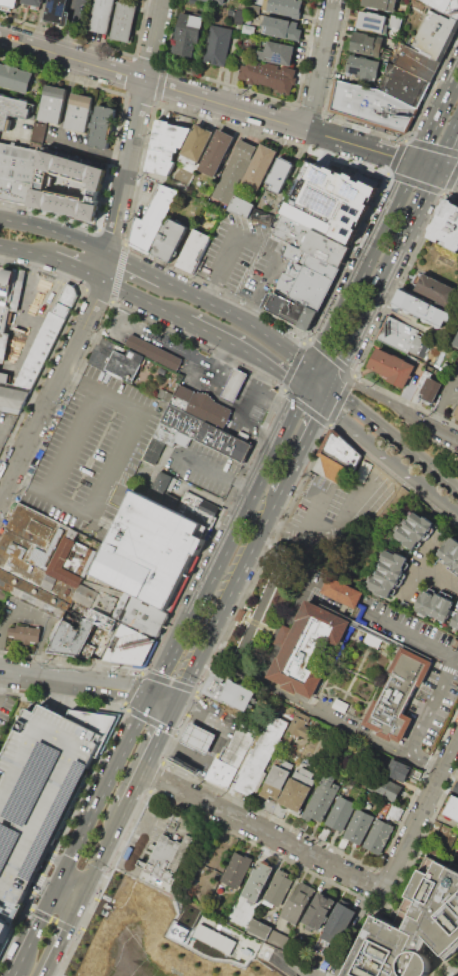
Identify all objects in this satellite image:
building: (216, 1)
building: (8, 3)
building: (32, 3)
building: (379, 5)
building: (285, 6)
building: (444, 6)
building: (255, 8)
building: (56, 12)
building: (229, 12)
building: (239, 15)
building: (102, 16)
building: (124, 21)
building: (369, 22)
building: (396, 23)
road: (69, 27)
building: (281, 28)
building: (248, 29)
road: (66, 34)
building: (435, 34)
building: (187, 38)
building: (217, 44)
building: (365, 47)
building: (277, 53)
road: (148, 60)
building: (416, 62)
road: (319, 64)
building: (362, 70)
road: (130, 75)
building: (268, 75)
building: (15, 77)
road: (159, 83)
road: (229, 85)
road: (431, 85)
building: (405, 86)
road: (139, 98)
building: (52, 104)
building: (370, 104)
road: (229, 106)
building: (12, 109)
road: (308, 109)
building: (78, 112)
road: (136, 126)
building: (102, 127)
road: (363, 127)
building: (38, 134)
road: (55, 137)
road: (115, 145)
building: (196, 145)
building: (166, 146)
road: (431, 146)
road: (319, 151)
building: (216, 152)
road: (395, 157)
traffic signals: (415, 162)
building: (259, 168)
traffic signals: (438, 169)
building: (234, 170)
building: (17, 172)
building: (279, 175)
road: (450, 179)
road: (413, 182)
building: (69, 184)
road: (428, 187)
building: (327, 202)
building: (241, 206)
building: (153, 220)
road: (129, 222)
road: (384, 223)
building: (446, 227)
road: (55, 232)
road: (109, 235)
building: (171, 241)
building: (310, 242)
road: (253, 243)
road: (25, 251)
building: (193, 252)
parking lot: (243, 259)
road: (346, 259)
building: (311, 263)
road: (106, 266)
road: (134, 266)
road: (77, 268)
road: (118, 272)
building: (9, 276)
road: (397, 284)
building: (304, 287)
building: (436, 292)
road: (97, 294)
building: (65, 300)
road: (145, 301)
road: (109, 306)
building: (422, 309)
building: (291, 313)
road: (364, 316)
building: (4, 317)
road: (250, 325)
road: (60, 334)
road: (160, 336)
building: (398, 336)
building: (456, 343)
building: (3, 344)
building: (154, 352)
road: (247, 352)
road: (330, 356)
building: (115, 362)
road: (291, 365)
building: (29, 366)
building: (392, 369)
building: (162, 370)
traffic signals: (312, 371)
road: (257, 374)
road: (213, 377)
road: (307, 380)
building: (234, 384)
gas station: (234, 384)
traffic signals: (330, 386)
road: (52, 390)
traffic signals: (303, 390)
building: (432, 392)
road: (325, 394)
building: (181, 396)
road: (300, 396)
road: (312, 396)
road: (272, 397)
road: (381, 398)
road: (340, 399)
traffic signals: (321, 403)
road: (304, 407)
building: (208, 409)
building: (456, 415)
road: (287, 422)
road: (238, 423)
parking lot: (6, 425)
road: (131, 426)
road: (443, 431)
building: (207, 433)
road: (393, 438)
road: (367, 440)
road: (12, 445)
road: (299, 448)
parking lot: (94, 451)
building: (338, 456)
parking lot: (201, 465)
road: (217, 473)
building: (163, 489)
road: (435, 497)
road: (309, 503)
road: (11, 506)
building: (198, 508)
road: (331, 525)
road: (234, 528)
building: (415, 529)
road: (212, 532)
building: (151, 552)
building: (450, 553)
building: (37, 560)
road: (261, 560)
building: (389, 573)
road: (437, 577)
building: (340, 591)
building: (2, 594)
building: (85, 594)
road: (224, 599)
building: (105, 602)
building: (434, 605)
building: (141, 614)
building: (240, 615)
road: (35, 617)
building: (102, 619)
building: (455, 620)
building: (25, 633)
building: (76, 635)
building: (375, 635)
building: (129, 646)
building: (309, 650)
road: (69, 660)
road: (450, 662)
road: (2, 676)
road: (255, 680)
road: (167, 681)
road: (87, 683)
parking lot: (441, 683)
road: (197, 686)
road: (131, 687)
road: (43, 689)
building: (229, 691)
building: (396, 695)
traffic signals: (152, 696)
road: (191, 705)
building: (340, 705)
traffic signals: (172, 706)
road: (125, 708)
road: (150, 721)
building: (299, 724)
road: (176, 729)
road: (175, 738)
building: (198, 738)
road: (129, 741)
road: (216, 742)
building: (260, 756)
road: (148, 757)
building: (230, 757)
road: (424, 762)
building: (398, 770)
building: (306, 772)
road: (155, 776)
road: (89, 777)
building: (275, 781)
building: (382, 786)
building: (455, 787)
building: (41, 788)
parking lot: (41, 788)
building: (294, 794)
building: (321, 797)
building: (452, 808)
building: (394, 812)
building: (339, 813)
road: (420, 813)
building: (358, 826)
building: (456, 827)
road: (142, 830)
road: (261, 832)
building: (377, 835)
road: (109, 840)
road: (121, 844)
road: (50, 856)
road: (56, 861)
building: (160, 863)
road: (45, 868)
traffic signals: (66, 869)
building: (235, 869)
road: (61, 879)
building: (258, 880)
road: (37, 882)
road: (75, 883)
road: (45, 884)
road: (87, 887)
building: (278, 888)
traffic signals: (57, 889)
road: (69, 895)
traffic signals: (81, 901)
building: (298, 902)
road: (28, 908)
building: (319, 911)
road: (88, 913)
road: (53, 919)
road: (16, 925)
building: (336, 927)
building: (413, 927)
building: (259, 928)
building: (3, 930)
road: (35, 930)
road: (77, 931)
road: (62, 938)
building: (213, 938)
road: (69, 952)
road: (14, 974)

